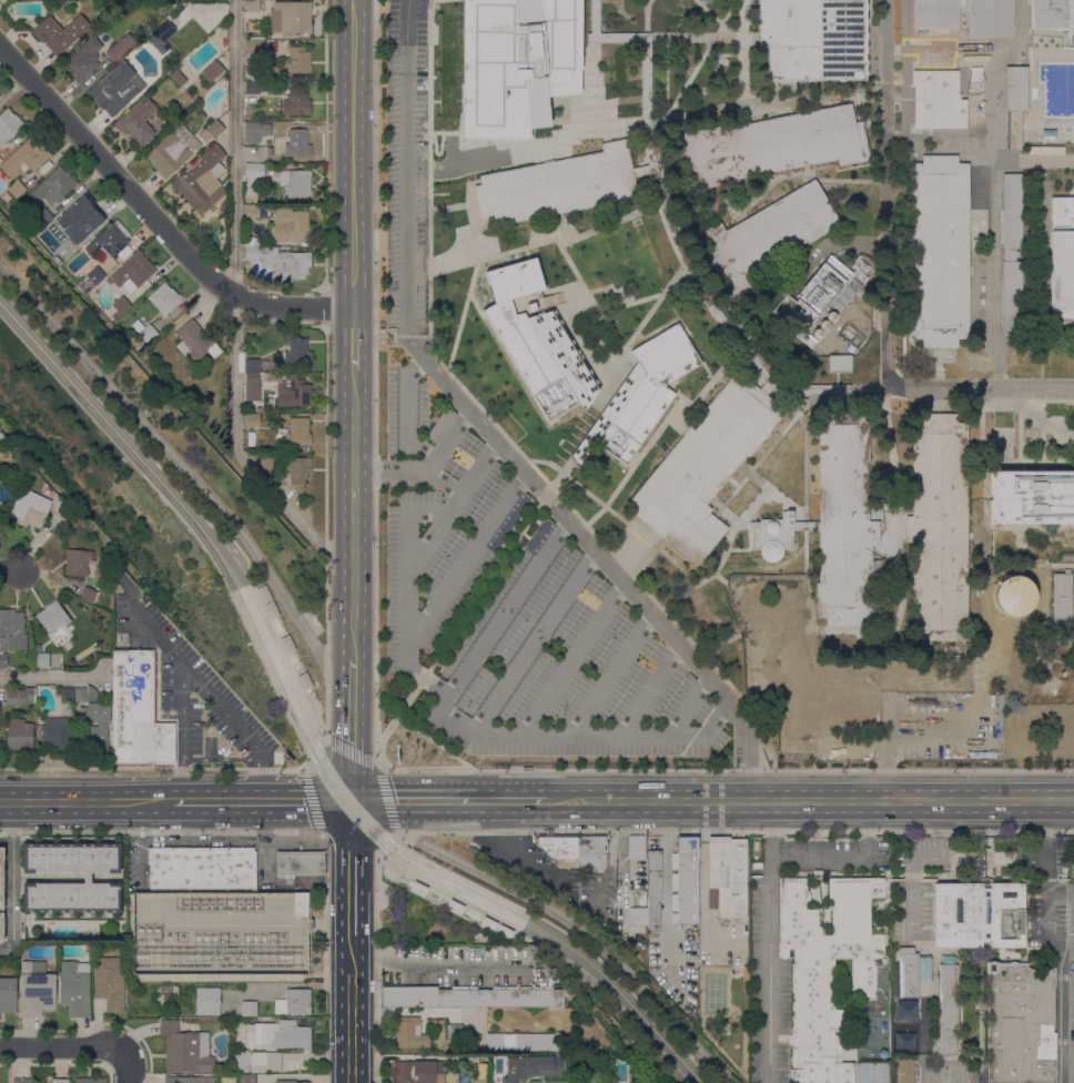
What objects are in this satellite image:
building: (173, 2)
road: (647, 2)
building: (252, 6)
building: (1, 7)
building: (179, 9)
building: (935, 14)
building: (1052, 14)
building: (291, 18)
building: (991, 19)
road: (717, 20)
road: (646, 23)
building: (146, 29)
building: (60, 33)
building: (161, 37)
road: (702, 37)
building: (811, 40)
building: (255, 44)
building: (121, 48)
road: (742, 52)
building: (83, 60)
building: (297, 61)
building: (515, 63)
road: (903, 68)
building: (212, 71)
building: (176, 77)
road: (591, 80)
road: (884, 81)
road: (898, 81)
road: (857, 82)
building: (254, 88)
building: (1015, 88)
building: (115, 89)
building: (936, 100)
road: (766, 101)
road: (430, 104)
building: (295, 105)
road: (993, 115)
building: (138, 121)
building: (9, 125)
building: (256, 129)
building: (212, 131)
road: (433, 132)
road: (570, 134)
road: (940, 136)
building: (297, 143)
road: (325, 144)
road: (474, 144)
building: (767, 146)
building: (172, 151)
road: (436, 153)
road: (353, 154)
building: (26, 156)
building: (908, 158)
building: (0, 159)
parking lot: (405, 161)
road: (452, 166)
road: (652, 168)
building: (255, 170)
building: (201, 182)
building: (295, 183)
building: (556, 185)
building: (53, 186)
building: (16, 189)
road: (886, 194)
road: (657, 204)
building: (224, 206)
building: (661, 206)
building: (252, 212)
road: (154, 215)
building: (43, 217)
building: (79, 220)
road: (992, 223)
building: (290, 224)
road: (673, 236)
building: (762, 237)
building: (252, 242)
building: (108, 243)
building: (939, 252)
building: (124, 253)
building: (1012, 255)
building: (62, 257)
building: (282, 262)
building: (1063, 266)
road: (475, 269)
building: (132, 273)
road: (702, 274)
building: (95, 275)
road: (587, 295)
building: (815, 297)
building: (164, 298)
road: (624, 298)
road: (476, 305)
building: (120, 306)
road: (234, 306)
road: (652, 306)
road: (325, 307)
building: (144, 330)
road: (993, 337)
road: (353, 338)
building: (536, 340)
building: (195, 342)
building: (297, 353)
road: (701, 360)
building: (840, 364)
building: (252, 365)
road: (374, 383)
road: (769, 384)
building: (252, 387)
road: (943, 388)
road: (1036, 388)
building: (290, 389)
building: (638, 396)
road: (843, 402)
road: (407, 412)
building: (252, 421)
road: (596, 423)
building: (298, 432)
road: (488, 433)
road: (656, 434)
building: (2, 439)
road: (446, 442)
building: (288, 454)
road: (171, 455)
building: (267, 462)
road: (1029, 465)
building: (705, 466)
building: (297, 469)
road: (409, 473)
road: (325, 492)
road: (544, 496)
building: (1031, 496)
road: (454, 503)
road: (566, 503)
building: (30, 508)
building: (60, 510)
road: (353, 513)
building: (1, 514)
parking lot: (436, 517)
road: (983, 522)
building: (845, 523)
road: (804, 526)
building: (938, 528)
building: (777, 535)
road: (729, 537)
road: (469, 555)
road: (670, 559)
building: (78, 561)
road: (901, 564)
road: (9, 570)
building: (1015, 581)
road: (483, 588)
building: (787, 588)
building: (749, 590)
building: (263, 594)
building: (88, 595)
building: (109, 596)
building: (1061, 599)
road: (506, 607)
building: (271, 609)
building: (1015, 610)
building: (52, 617)
building: (774, 618)
building: (13, 629)
road: (158, 638)
road: (716, 638)
road: (534, 642)
building: (286, 644)
building: (776, 647)
road: (573, 658)
building: (2, 660)
building: (42, 660)
road: (294, 666)
parking lot: (566, 670)
road: (610, 675)
road: (51, 677)
road: (422, 677)
building: (933, 677)
building: (776, 678)
building: (851, 679)
building: (304, 681)
parking lot: (189, 685)
road: (649, 690)
building: (67, 695)
building: (85, 695)
building: (20, 697)
road: (326, 700)
road: (688, 705)
building: (138, 711)
building: (850, 711)
road: (397, 717)
parking lot: (932, 726)
road: (466, 727)
road: (239, 728)
building: (794, 728)
road: (351, 729)
building: (54, 731)
building: (1027, 732)
building: (1057, 733)
building: (19, 736)
road: (182, 736)
building: (94, 737)
road: (433, 741)
road: (315, 753)
road: (354, 753)
road: (222, 760)
road: (155, 768)
road: (726, 769)
road: (387, 797)
road: (265, 800)
road: (809, 800)
traffic signals: (348, 801)
road: (447, 801)
road: (91, 802)
road: (286, 819)
road: (184, 820)
road: (233, 820)
road: (869, 822)
road: (320, 828)
road: (733, 831)
road: (239, 832)
road: (140, 838)
road: (386, 843)
building: (986, 843)
building: (559, 847)
road: (506, 849)
building: (637, 849)
building: (592, 852)
road: (823, 859)
building: (297, 863)
building: (201, 868)
road: (351, 870)
building: (727, 877)
building: (88, 878)
building: (1, 879)
road: (12, 879)
building: (688, 880)
road: (270, 883)
building: (417, 889)
building: (653, 889)
road: (440, 899)
building: (641, 899)
road: (375, 903)
building: (300, 905)
building: (453, 908)
building: (639, 915)
building: (979, 915)
building: (487, 924)
building: (308, 925)
building: (1, 928)
road: (579, 928)
building: (501, 932)
power substation: (222, 934)
road: (768, 941)
road: (1071, 951)
road: (438, 960)
building: (823, 970)
building: (911, 971)
building: (863, 979)
building: (110, 983)
building: (74, 989)
building: (37, 990)
building: (8, 995)
road: (1068, 995)
building: (470, 998)
building: (207, 1001)
building: (294, 1003)
building: (249, 1009)
building: (905, 1009)
road: (1063, 1009)
building: (949, 1010)
road: (351, 1012)
building: (1021, 1024)
building: (557, 1026)
building: (455, 1032)
building: (409, 1033)
building: (278, 1035)
building: (903, 1040)
building: (524, 1042)
road: (61, 1046)
building: (185, 1049)
building: (247, 1060)
building: (274, 1062)
road: (126, 1066)
building: (530, 1067)
park: (944, 1069)
building: (905, 1070)
building: (418, 1072)
building: (226, 1077)
building: (247, 1079)
building: (190, 1080)
building: (22, 1081)
building: (60, 1081)
building: (91, 1081)
building: (482, 1081)
building: (285, 1082)

